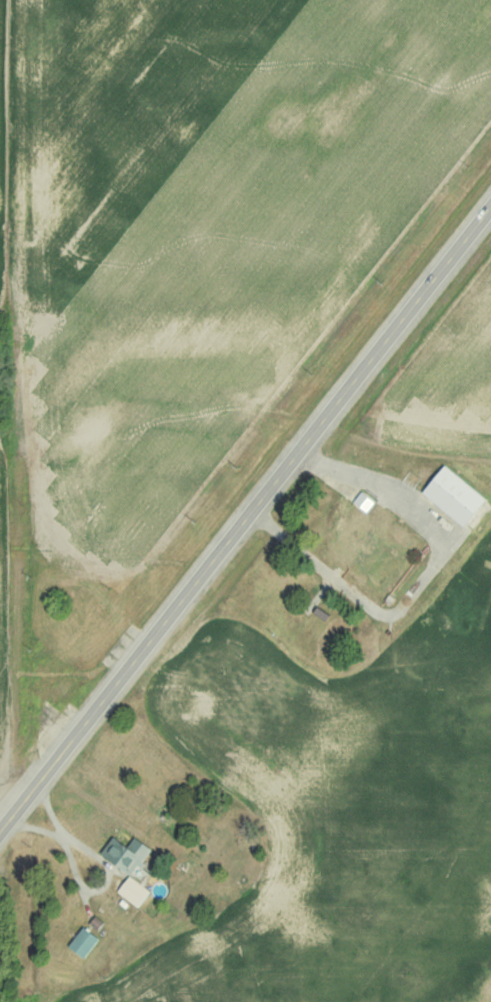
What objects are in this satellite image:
building: (451, 496)
road: (245, 519)
building: (130, 891)
building: (81, 942)

